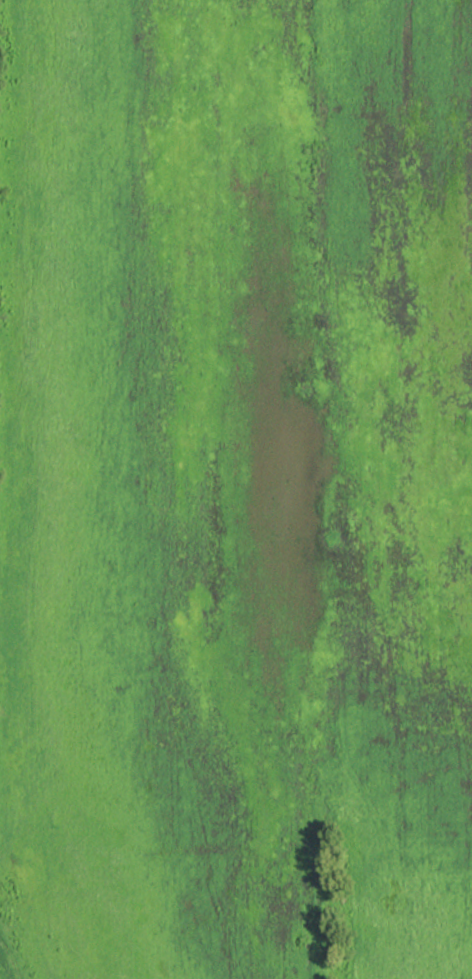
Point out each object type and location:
road: (8, 961)

